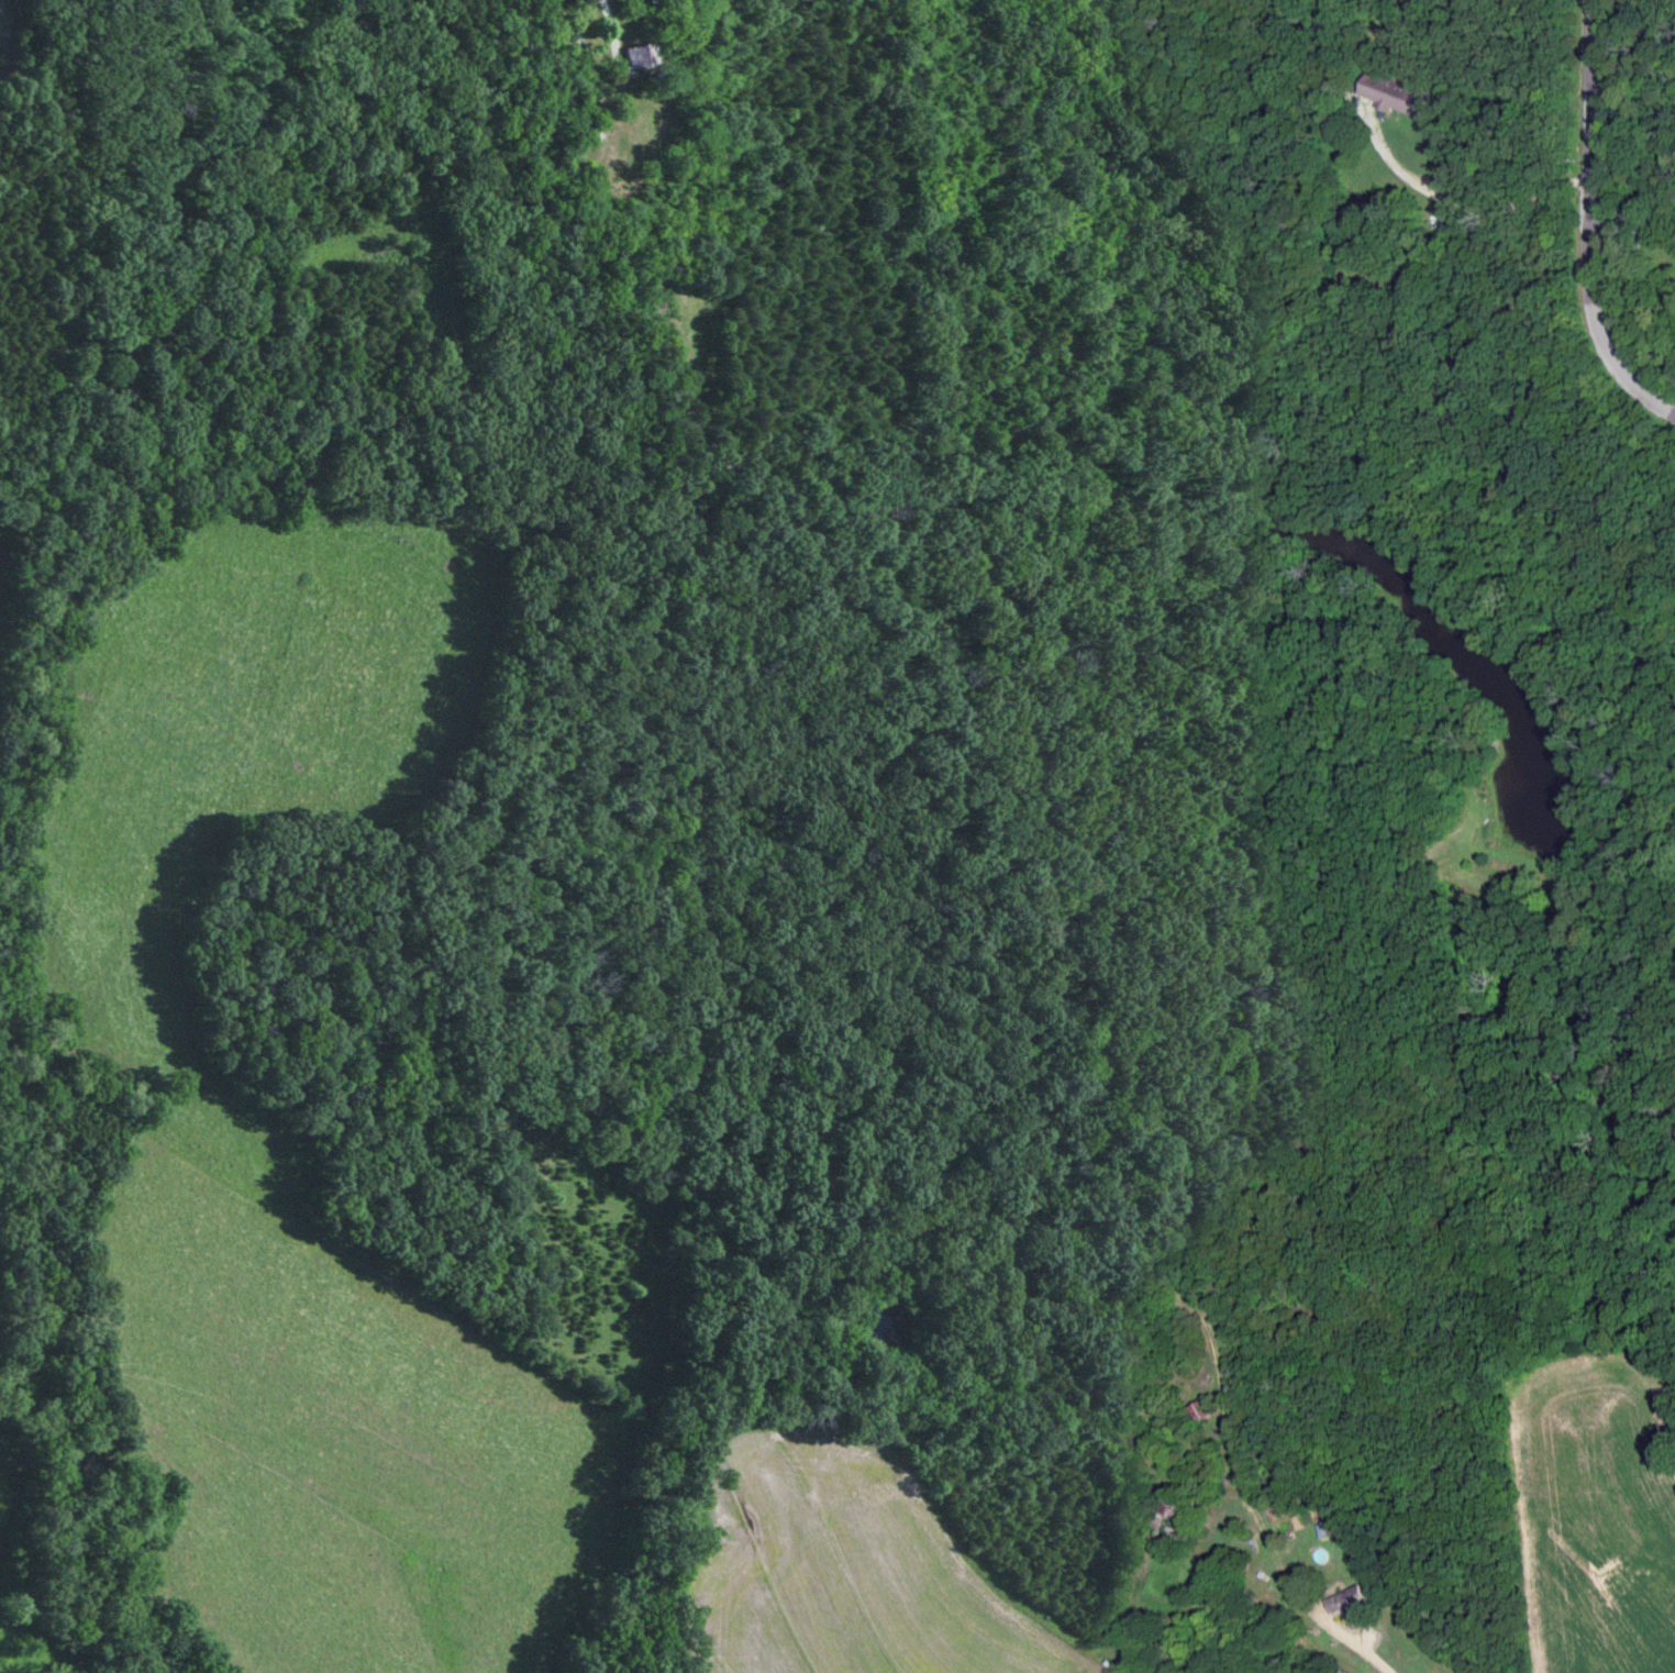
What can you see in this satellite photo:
building: (636, 57)
building: (1391, 96)
road: (1429, 120)
building: (585, 135)
road: (1571, 221)
building: (1198, 1415)
building: (1177, 1522)
building: (1323, 1532)
road: (1272, 1585)
building: (1343, 1604)

